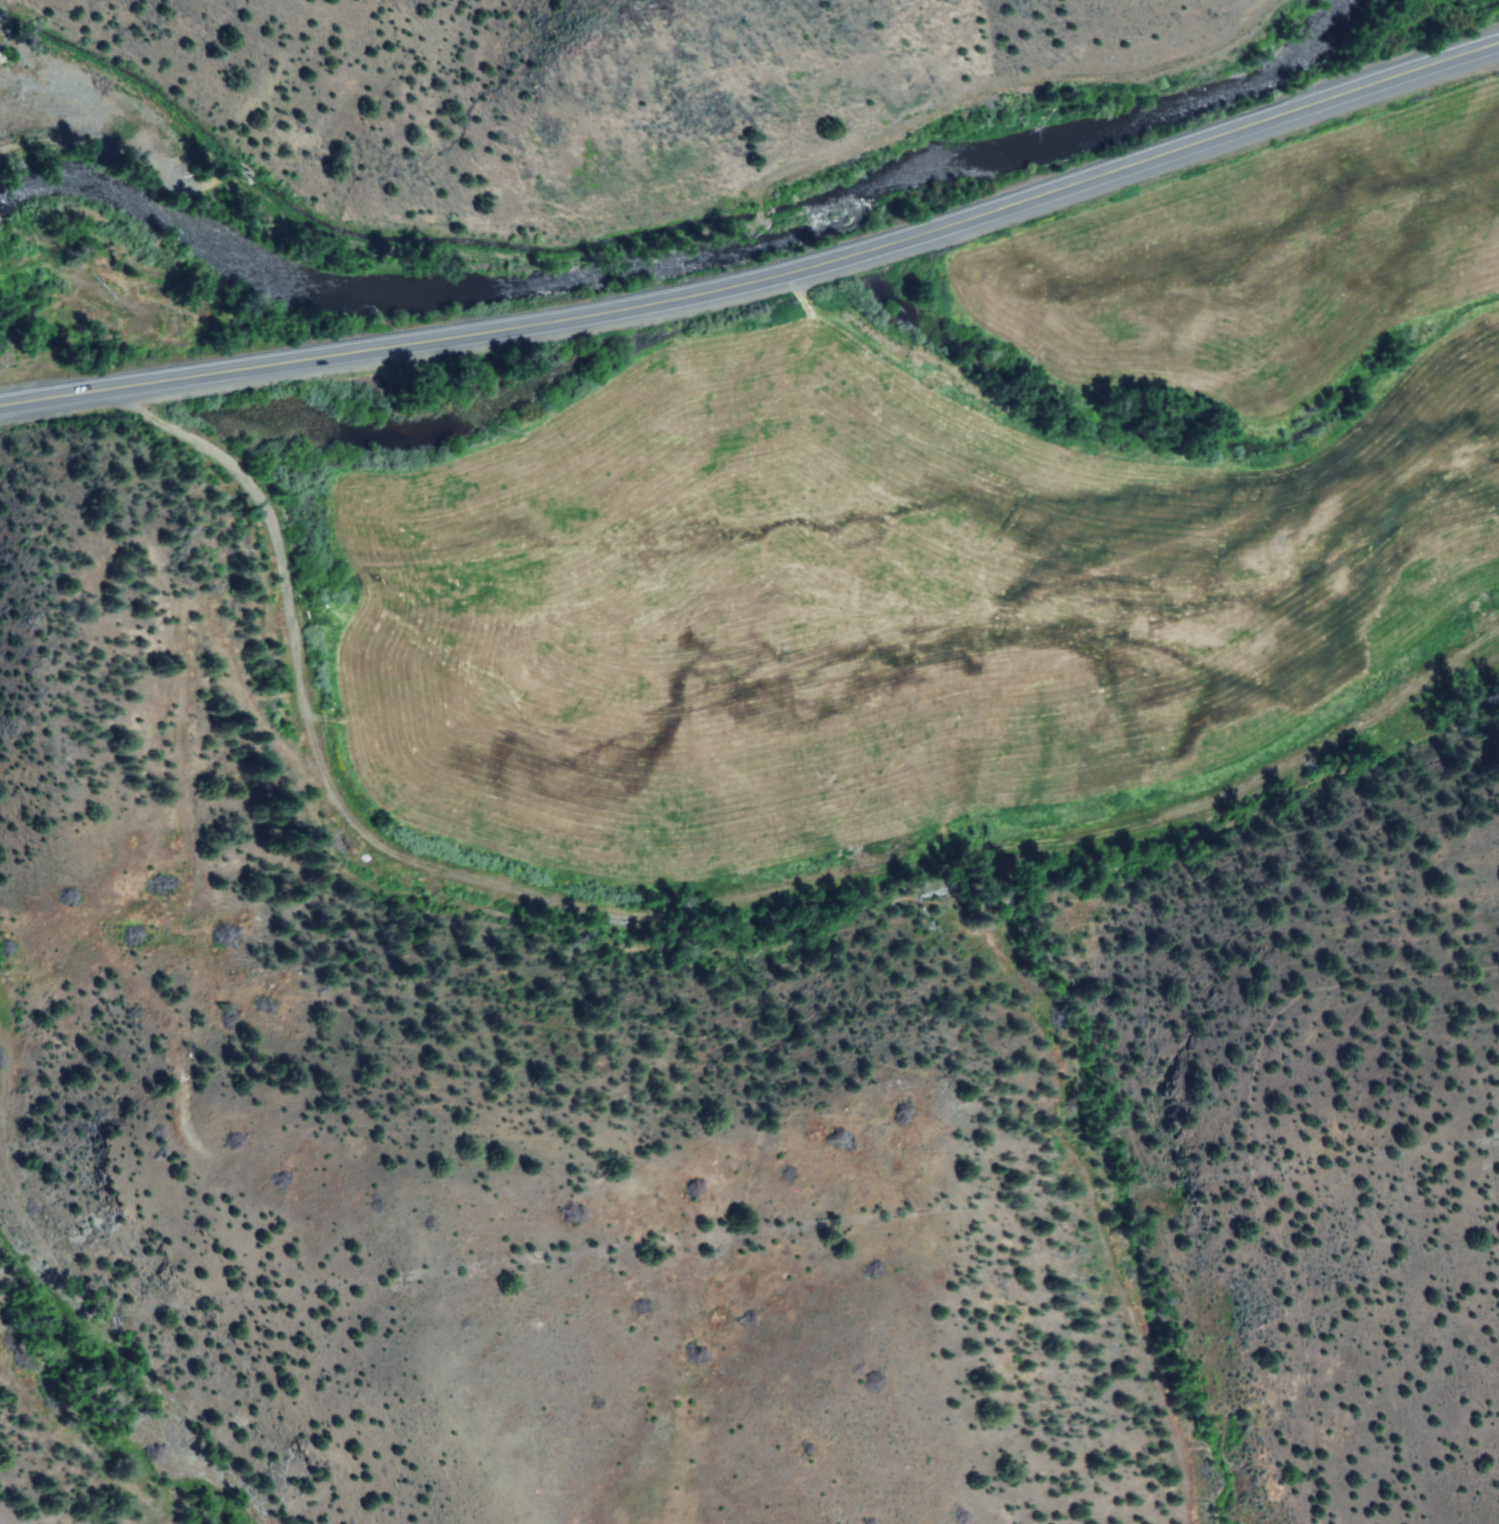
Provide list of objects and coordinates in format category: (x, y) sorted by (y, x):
river: (687, 253)
road: (830, 262)
road: (69, 394)

